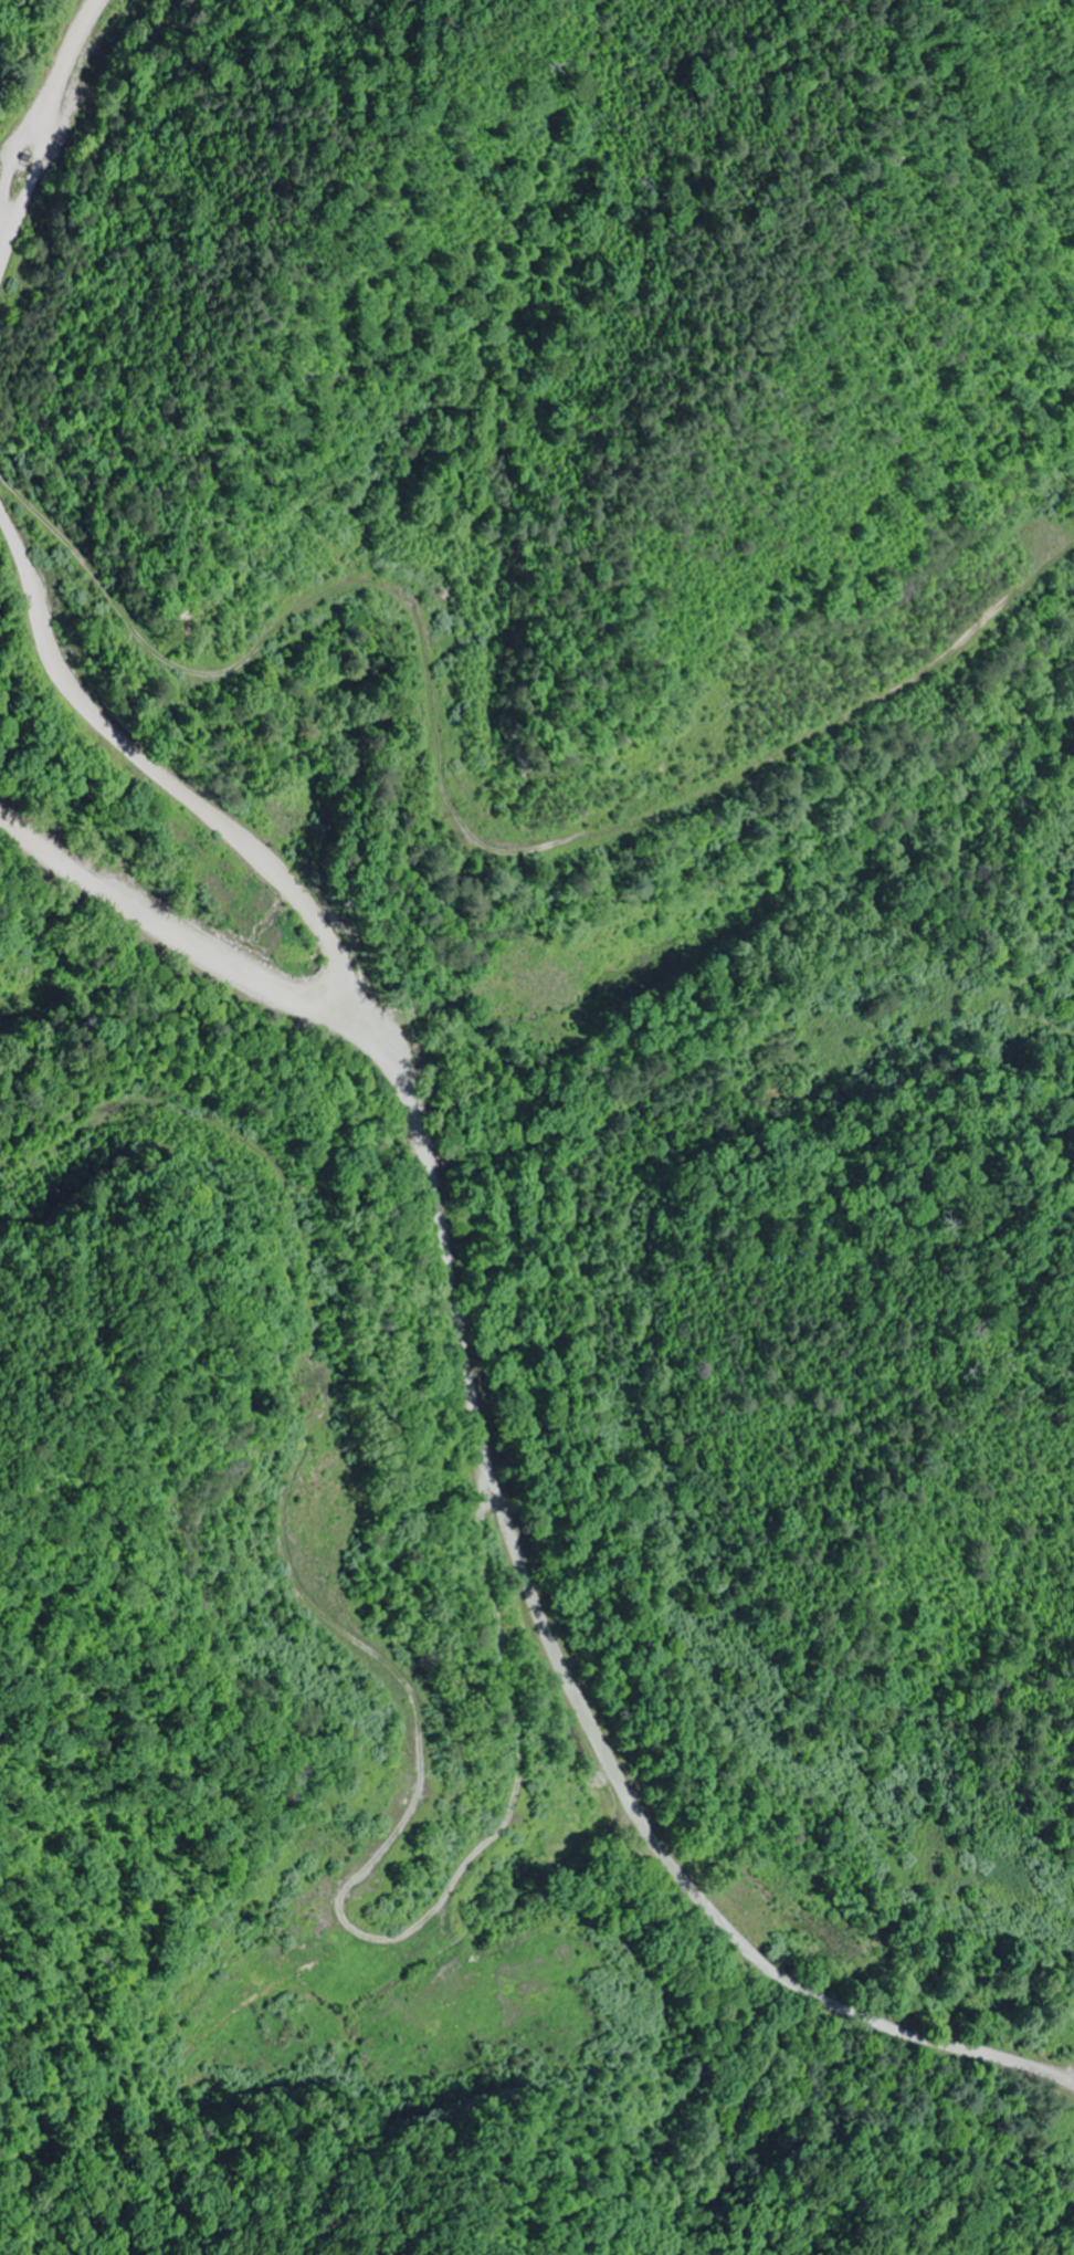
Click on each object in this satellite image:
quarry: (390, 243)
road: (494, 1482)

